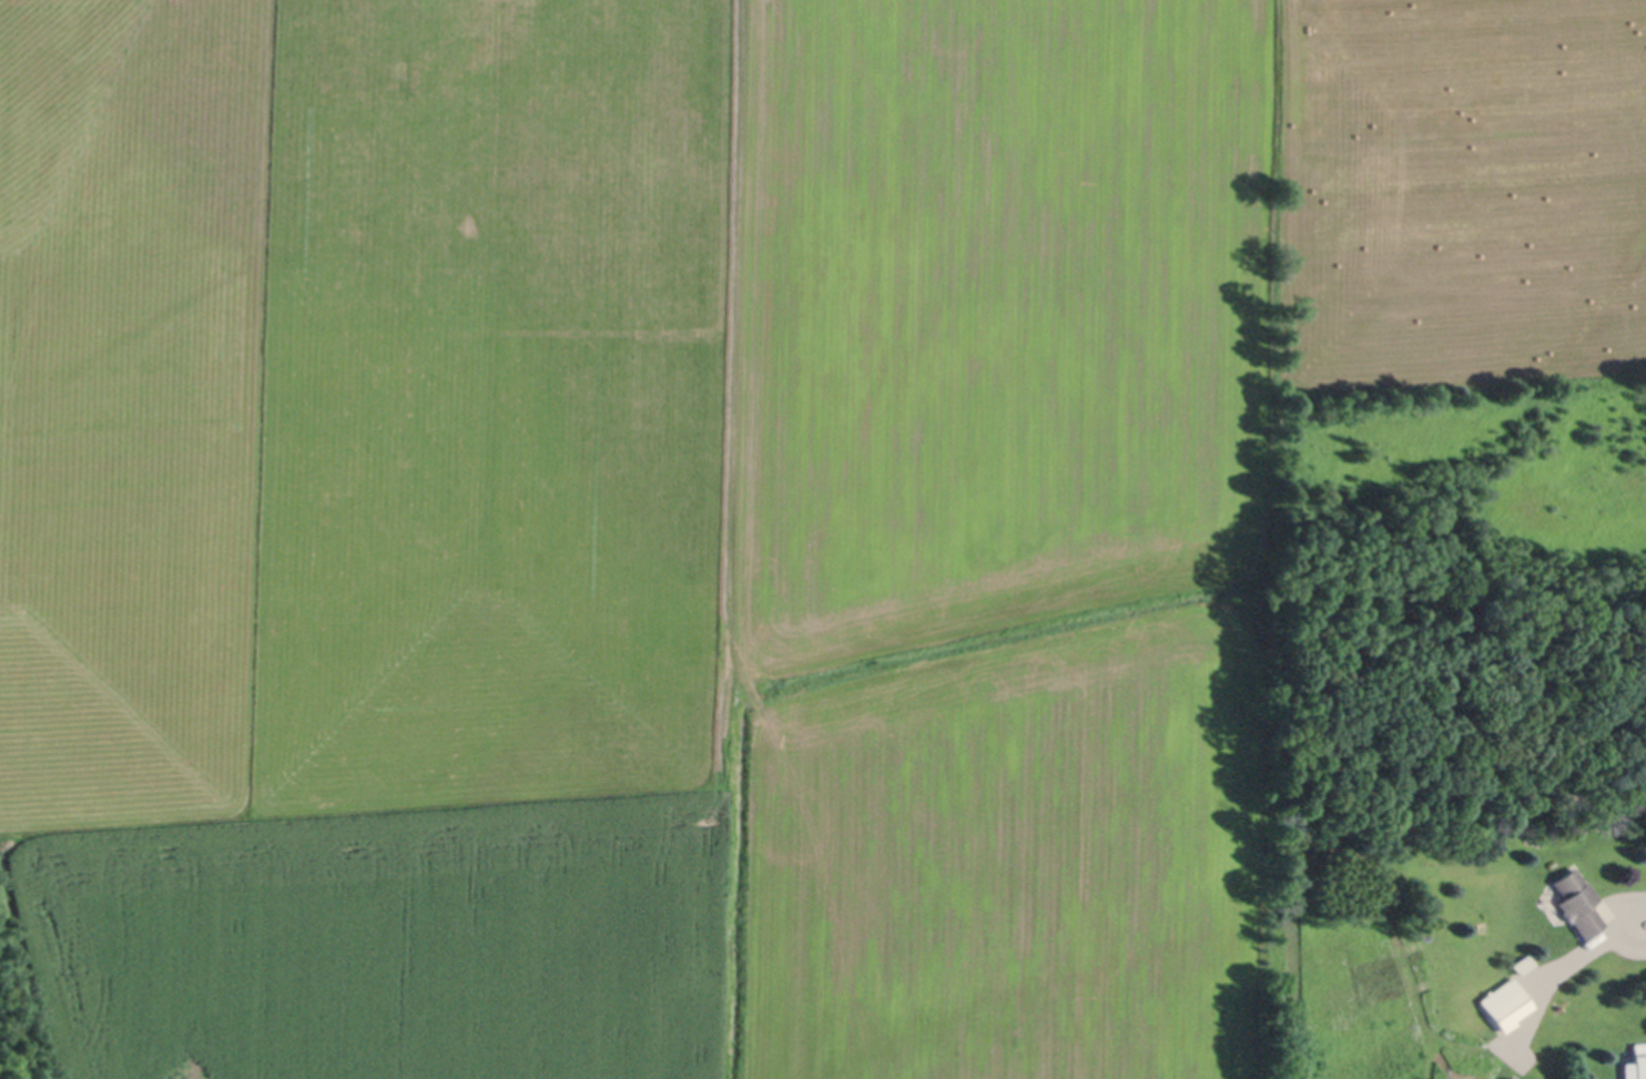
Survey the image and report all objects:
crop: (717, 503)
building: (1577, 903)
building: (1505, 1004)
building: (1637, 1062)

